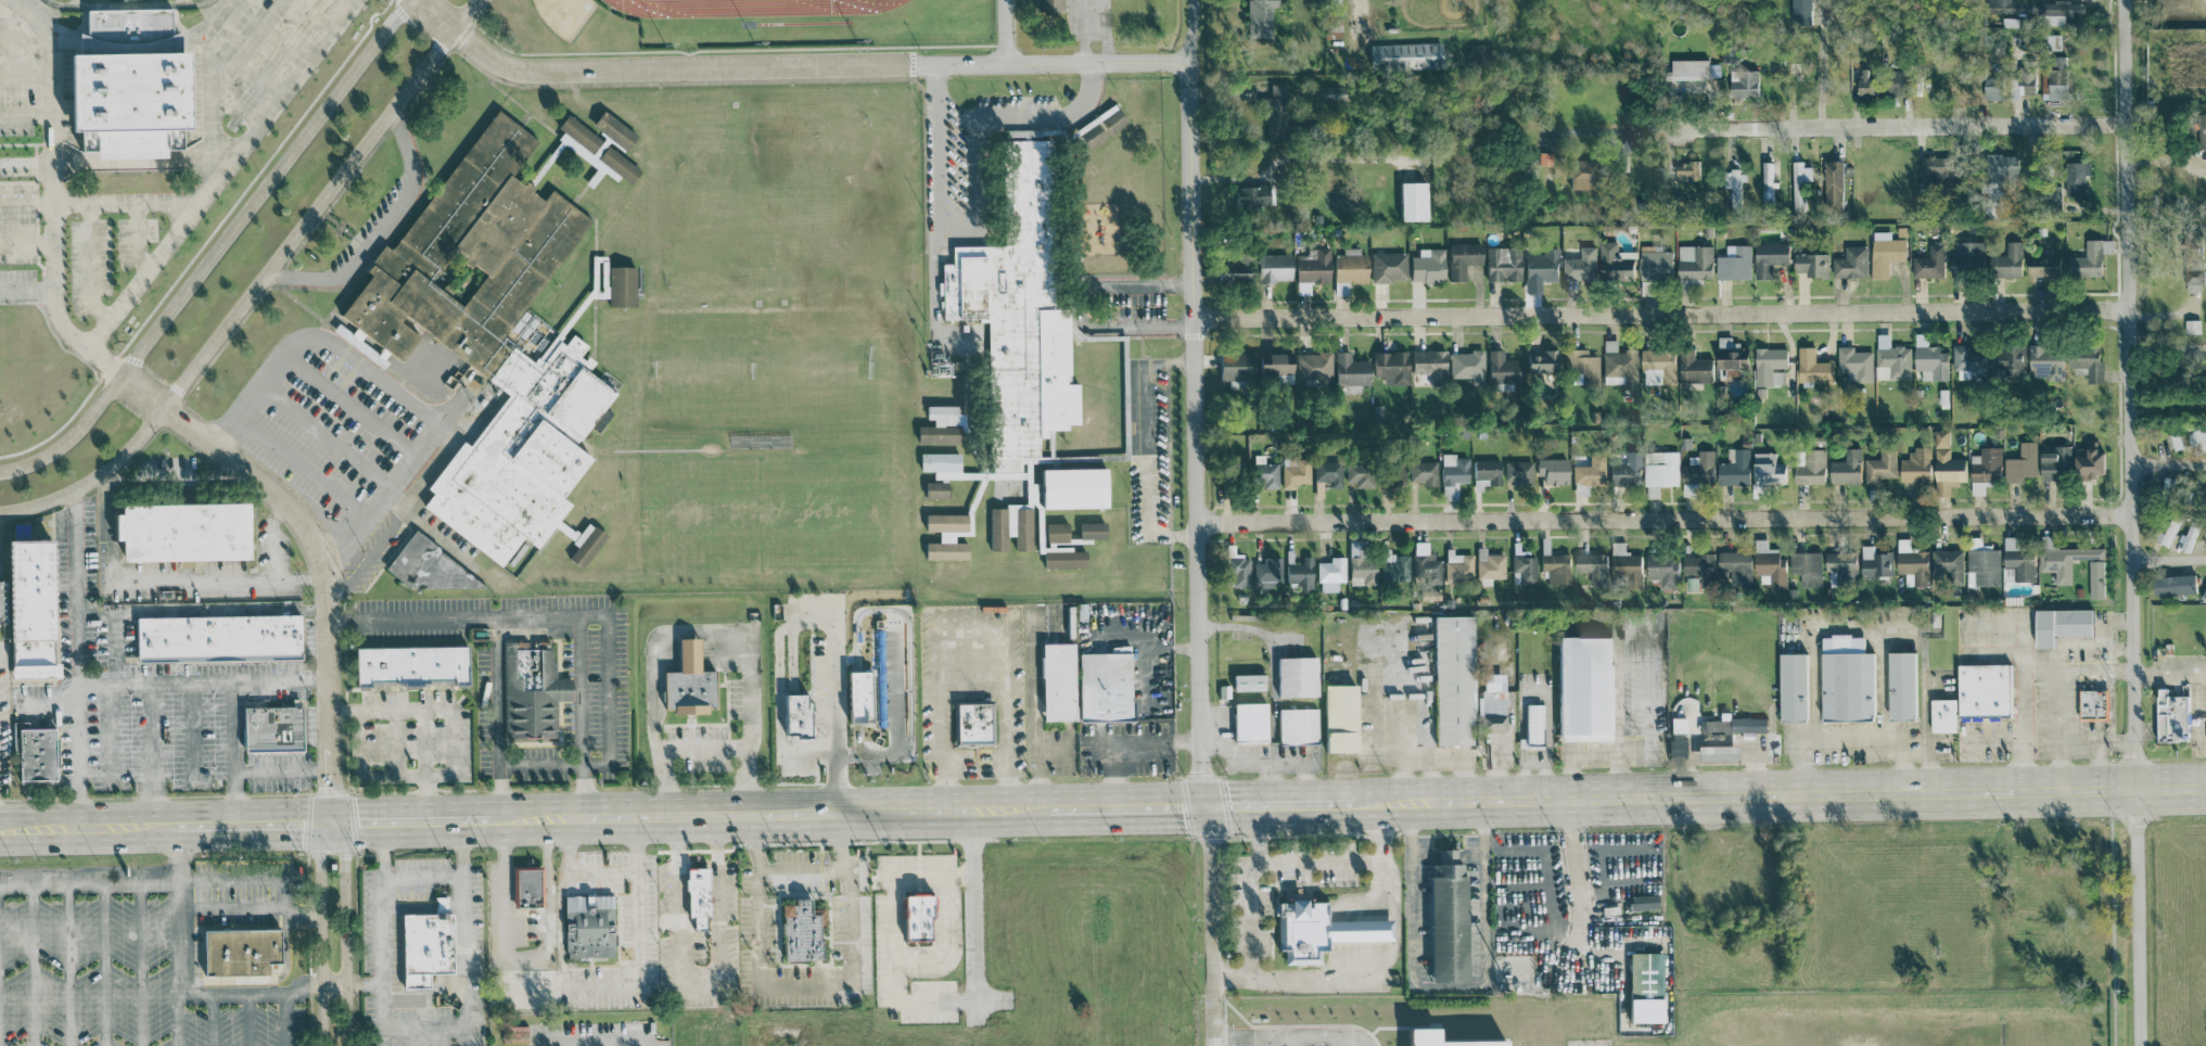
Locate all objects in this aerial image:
building: (2000, 5)
track: (757, 7)
building: (1050, 7)
building: (1800, 11)
building: (2057, 11)
road: (1360, 12)
stadium: (128, 17)
building: (1258, 17)
building: (1331, 18)
building: (2009, 21)
stadium: (804, 22)
road: (1004, 33)
building: (2052, 41)
parking lot: (267, 52)
building: (1403, 55)
road: (794, 67)
building: (1686, 68)
building: (2053, 78)
parking lot: (16, 79)
building: (2026, 79)
building: (1893, 81)
building: (1742, 82)
building: (1863, 82)
road: (212, 86)
building: (2013, 88)
building: (1331, 92)
building: (130, 95)
building: (1273, 112)
road: (1084, 116)
building: (1100, 125)
road: (1902, 126)
building: (610, 129)
road: (1614, 130)
building: (2201, 130)
building: (591, 148)
road: (2165, 160)
road: (981, 161)
road: (26, 165)
building: (1686, 168)
building: (1934, 168)
building: (1577, 174)
road: (221, 175)
building: (2075, 177)
building: (1994, 180)
building: (1767, 181)
building: (1799, 183)
building: (1832, 184)
building: (1733, 186)
road: (52, 195)
building: (1250, 196)
building: (1410, 201)
road: (127, 202)
parking lot: (16, 224)
road: (381, 230)
road: (936, 232)
road: (216, 251)
building: (1884, 252)
building: (1966, 254)
parking lot: (105, 257)
building: (1768, 257)
building: (1461, 258)
building: (2086, 259)
building: (1693, 260)
building: (2005, 260)
building: (1614, 261)
building: (1850, 261)
building: (1928, 261)
building: (1502, 263)
building: (1653, 263)
building: (1733, 263)
building: (1810, 263)
building: (1579, 264)
building: (1349, 265)
building: (1425, 265)
building: (1540, 265)
building: (2041, 265)
building: (1387, 266)
building: (1273, 267)
building: (1312, 269)
building: (1230, 271)
building: (2193, 273)
parking lot: (17, 280)
road: (258, 284)
building: (619, 285)
building: (1340, 290)
road: (27, 292)
building: (1019, 303)
road: (1076, 308)
road: (1660, 314)
building: (2191, 326)
building: (489, 341)
building: (395, 342)
building: (1730, 356)
building: (1928, 358)
building: (2007, 358)
building: (2086, 360)
building: (1540, 361)
building: (1618, 361)
building: (1854, 361)
building: (2045, 361)
building: (1892, 362)
building: (1967, 362)
building: (1428, 363)
building: (1465, 363)
building: (1581, 363)
building: (1769, 365)
building: (1274, 366)
building: (1313, 366)
building: (1657, 366)
building: (1812, 366)
building: (1389, 367)
building: (1692, 367)
building: (1234, 368)
building: (1501, 368)
building: (1348, 369)
road: (391, 394)
road: (1195, 400)
road: (353, 408)
building: (938, 424)
road: (328, 438)
building: (2196, 438)
building: (2172, 439)
road: (1142, 449)
building: (2087, 460)
building: (939, 462)
building: (2020, 462)
building: (2054, 462)
road: (2167, 463)
building: (1882, 464)
building: (1946, 464)
road: (306, 465)
building: (1809, 465)
building: (1915, 465)
building: (1733, 467)
building: (1846, 467)
building: (1659, 468)
building: (1984, 468)
building: (1623, 469)
building: (1765, 470)
building: (1551, 471)
building: (1589, 471)
building: (1696, 471)
building: (1263, 472)
building: (1293, 472)
building: (1327, 472)
building: (1423, 472)
building: (1517, 472)
building: (1393, 473)
building: (1484, 473)
building: (1452, 474)
building: (1359, 475)
building: (932, 489)
building: (1650, 490)
road: (106, 507)
road: (1663, 519)
road: (2129, 522)
building: (1008, 526)
building: (1089, 530)
building: (2168, 530)
building: (175, 532)
building: (1054, 532)
road: (309, 536)
building: (943, 536)
building: (2189, 536)
road: (271, 539)
road: (106, 540)
road: (106, 544)
building: (2205, 544)
building: (584, 547)
building: (2019, 557)
road: (2168, 559)
building: (1874, 561)
building: (1911, 562)
building: (1624, 563)
building: (1948, 563)
building: (1981, 563)
building: (1425, 564)
building: (1489, 564)
building: (1554, 564)
building: (1697, 564)
building: (1768, 564)
building: (2054, 564)
building: (1393, 565)
building: (1458, 565)
building: (1734, 565)
building: (1360, 566)
building: (1592, 566)
building: (1806, 566)
building: (1840, 566)
building: (1235, 567)
building: (1523, 569)
building: (1661, 569)
building: (1266, 572)
building: (1330, 574)
building: (1300, 575)
road: (202, 579)
building: (2172, 584)
building: (2204, 595)
building: (27, 607)
road: (201, 607)
road: (598, 616)
road: (951, 618)
road: (1632, 620)
road: (1988, 623)
building: (2060, 624)
road: (1859, 628)
road: (703, 629)
road: (908, 630)
road: (2107, 632)
building: (216, 638)
road: (113, 646)
road: (1989, 655)
road: (77, 656)
building: (405, 665)
road: (2076, 668)
road: (2169, 675)
building: (1296, 676)
building: (1450, 680)
road: (202, 681)
building: (684, 681)
building: (1055, 681)
building: (1247, 681)
building: (1845, 683)
road: (1810, 684)
road: (1879, 684)
building: (1791, 686)
building: (1900, 686)
building: (1101, 687)
road: (1650, 687)
building: (1582, 689)
building: (1981, 689)
building: (528, 691)
building: (854, 697)
building: (1490, 702)
road: (2020, 704)
building: (2091, 704)
road: (1615, 707)
road: (498, 715)
building: (793, 715)
building: (1941, 715)
road: (422, 716)
road: (1400, 716)
building: (2171, 716)
road: (833, 717)
building: (1338, 718)
building: (1249, 722)
building: (974, 723)
building: (1746, 724)
building: (1676, 725)
building: (1713, 725)
building: (1297, 726)
building: (1533, 726)
road: (2056, 727)
building: (266, 728)
road: (188, 731)
road: (894, 731)
road: (1164, 732)
road: (1849, 739)
road: (1989, 739)
road: (1687, 747)
road: (231, 751)
road: (153, 752)
road: (703, 752)
building: (1716, 753)
building: (33, 754)
road: (1609, 754)
road: (1900, 763)
road: (1449, 764)
road: (1798, 765)
road: (280, 771)
road: (1040, 773)
road: (1570, 775)
road: (1286, 780)
road: (1431, 780)
road: (1775, 790)
road: (588, 791)
road: (1273, 800)
traffic signals: (1202, 802)
road: (1121, 803)
road: (770, 808)
road: (482, 815)
road: (403, 817)
traffic signals: (320, 818)
road: (332, 818)
traffic signals: (344, 818)
road: (248, 819)
road: (88, 822)
road: (757, 835)
road: (1424, 856)
road: (1445, 856)
road: (1469, 856)
road: (1349, 859)
road: (836, 862)
road: (1655, 867)
road: (576, 869)
road: (142, 881)
road: (423, 882)
road: (1249, 888)
building: (525, 889)
road: (1380, 893)
building: (693, 896)
road: (1577, 896)
road: (285, 898)
building: (1641, 902)
road: (345, 913)
road: (320, 914)
road: (971, 914)
building: (913, 916)
building: (1445, 918)
road: (643, 919)
road: (246, 920)
road: (1208, 923)
building: (586, 926)
road: (1361, 930)
building: (798, 931)
building: (1316, 931)
road: (890, 942)
building: (422, 944)
building: (234, 952)
road: (522, 959)
road: (1362, 959)
road: (171, 962)
road: (67, 964)
road: (103, 964)
road: (138, 964)
road: (33, 965)
parking lot: (122, 966)
road: (1298, 979)
road: (334, 984)
road: (364, 986)
road: (1450, 986)
building: (1637, 987)
road: (706, 988)
road: (163, 995)
road: (284, 1019)
road: (211, 1020)
road: (246, 1020)
road: (422, 1032)
parking lot: (603, 1035)
building: (1417, 1036)
road: (1315, 1037)
road: (383, 1038)
road: (460, 1038)
road: (1238, 1038)
road: (610, 1042)
road: (1264, 1042)
road: (1301, 1042)
road: (1347, 1042)
road: (552, 1043)
road: (612, 1044)

